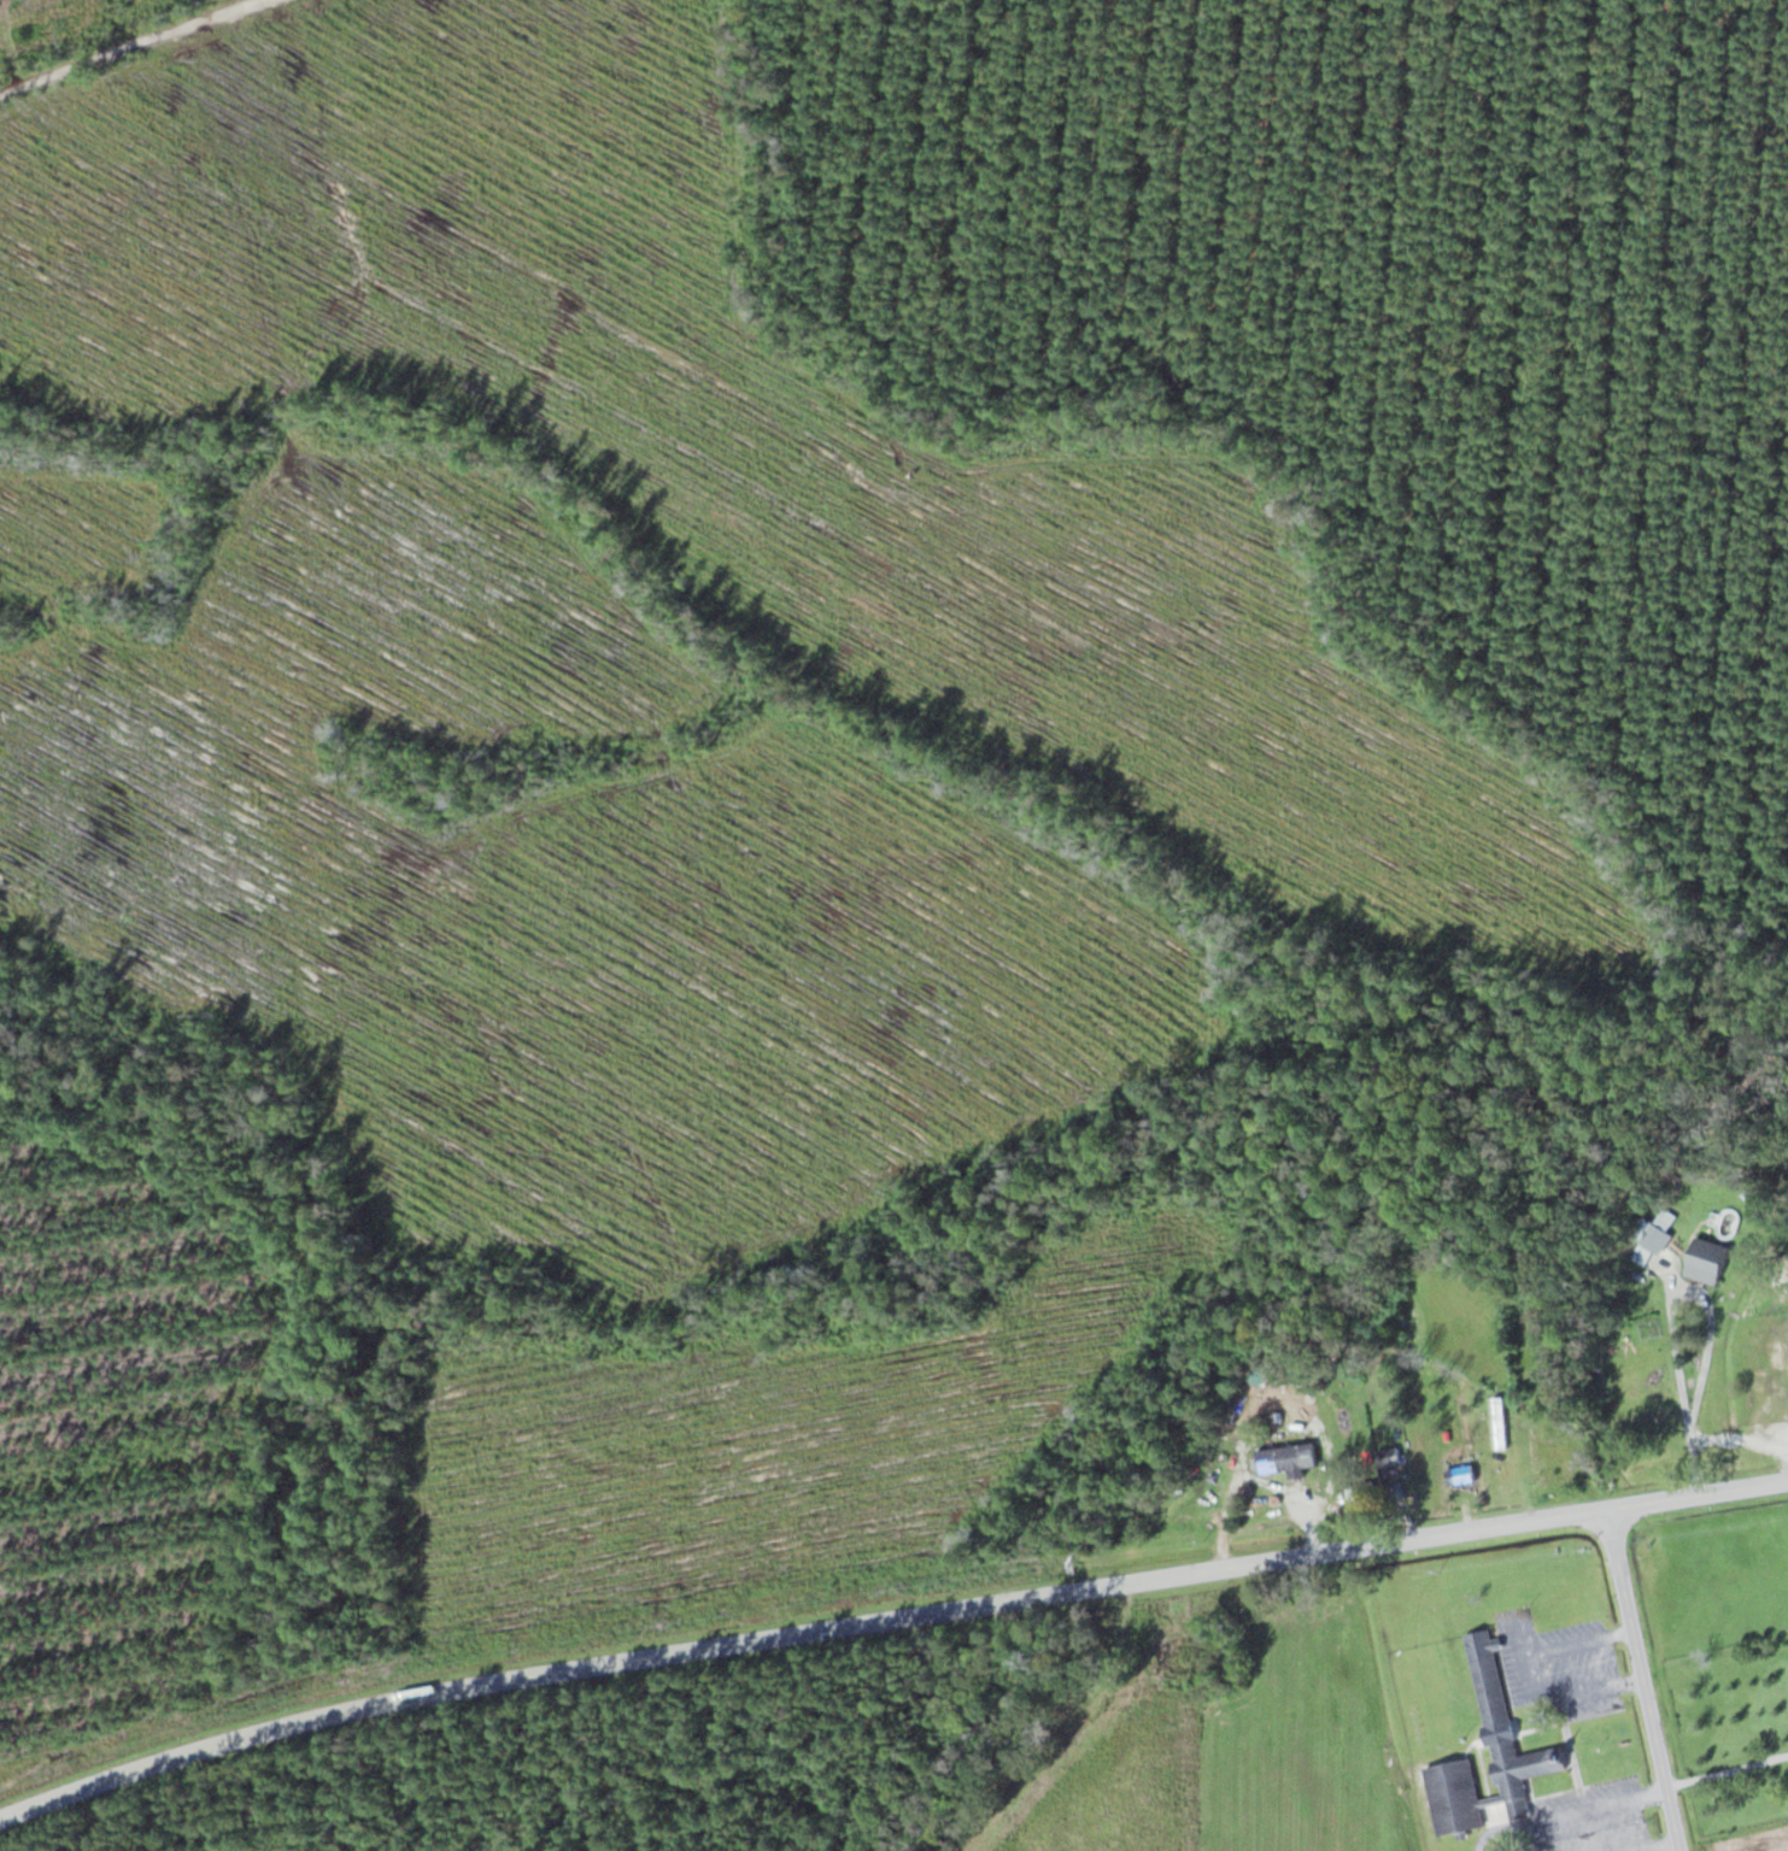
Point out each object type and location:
road: (136, 47)
building: (1658, 1232)
building: (1706, 1257)
building: (1499, 1422)
building: (1555, 1455)
building: (1285, 1459)
road: (1700, 1465)
building: (1459, 1475)
road: (801, 1634)
road: (1657, 1664)
building: (1499, 1730)

